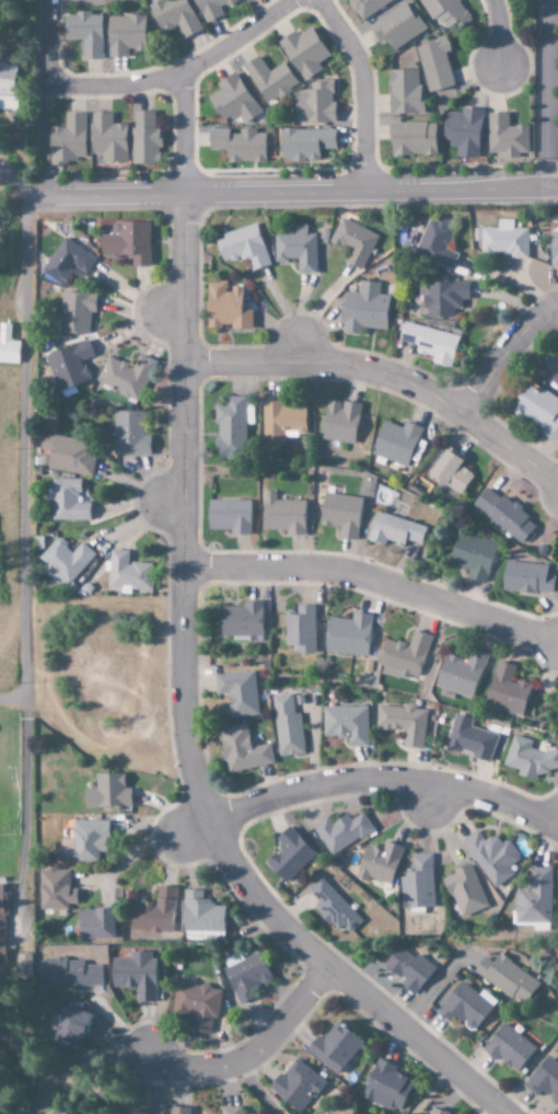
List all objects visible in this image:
building: (367, 7)
building: (211, 8)
building: (445, 12)
building: (174, 16)
building: (396, 26)
road: (499, 31)
building: (84, 33)
building: (125, 35)
road: (51, 45)
building: (304, 53)
building: (434, 65)
road: (186, 74)
building: (269, 79)
building: (7, 80)
road: (364, 88)
building: (405, 93)
road: (544, 94)
building: (233, 101)
building: (8, 103)
building: (315, 103)
building: (464, 134)
building: (505, 137)
building: (143, 138)
building: (412, 139)
building: (67, 140)
building: (107, 140)
building: (305, 143)
building: (239, 145)
road: (42, 195)
building: (501, 240)
building: (127, 242)
building: (353, 242)
building: (435, 242)
building: (243, 248)
building: (554, 249)
building: (297, 250)
building: (66, 262)
building: (440, 299)
building: (225, 308)
building: (364, 309)
building: (75, 312)
building: (430, 343)
building: (8, 346)
road: (505, 357)
building: (69, 368)
road: (386, 375)
building: (126, 377)
building: (556, 379)
building: (540, 412)
building: (282, 420)
building: (339, 423)
building: (230, 428)
building: (129, 435)
building: (396, 443)
building: (68, 455)
building: (451, 471)
building: (67, 502)
building: (282, 515)
building: (340, 515)
building: (504, 515)
building: (229, 517)
building: (394, 531)
road: (187, 545)
building: (473, 555)
building: (63, 562)
building: (128, 574)
building: (527, 578)
road: (376, 582)
building: (242, 621)
building: (300, 628)
building: (348, 634)
building: (404, 655)
building: (461, 674)
building: (507, 690)
building: (237, 692)
road: (13, 701)
building: (403, 722)
building: (346, 723)
building: (287, 726)
building: (469, 738)
building: (241, 749)
building: (530, 757)
road: (384, 780)
building: (106, 792)
building: (341, 831)
building: (84, 841)
building: (289, 854)
building: (492, 857)
building: (379, 862)
building: (418, 882)
building: (55, 891)
building: (465, 892)
building: (534, 898)
building: (333, 907)
building: (154, 911)
building: (201, 912)
building: (1, 920)
building: (96, 923)
building: (24, 966)
building: (408, 968)
building: (68, 973)
building: (135, 974)
building: (246, 975)
building: (507, 977)
building: (196, 1004)
building: (465, 1006)
building: (71, 1027)
road: (418, 1042)
building: (334, 1047)
building: (508, 1047)
road: (255, 1055)
building: (544, 1079)
building: (295, 1084)
building: (385, 1088)
building: (179, 1110)
building: (231, 1110)
building: (438, 1111)
building: (63, 1112)

